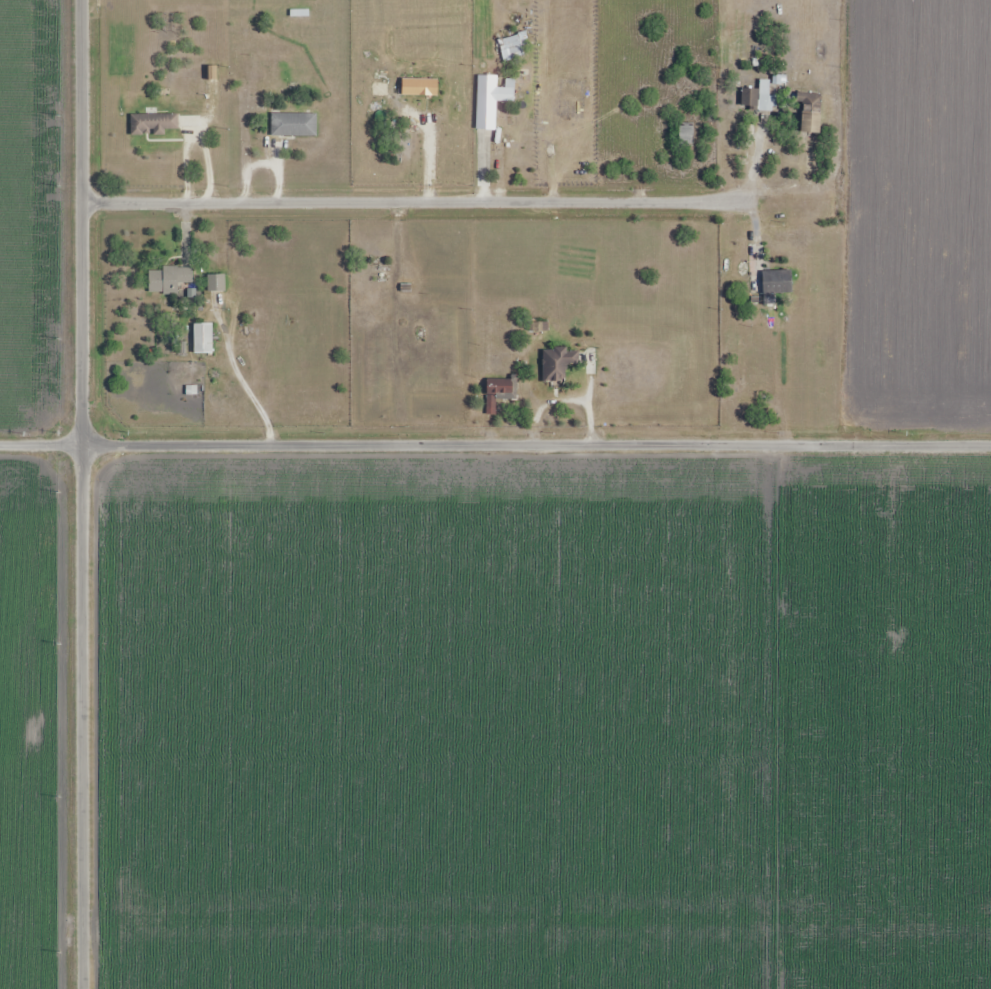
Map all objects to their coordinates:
building: (512, 47)
building: (758, 97)
building: (490, 101)
building: (810, 114)
building: (153, 125)
building: (294, 126)
building: (686, 134)
building: (550, 137)
road: (483, 171)
road: (421, 203)
building: (381, 272)
building: (169, 279)
building: (777, 283)
building: (203, 339)
building: (558, 365)
building: (500, 393)
road: (495, 444)
road: (84, 494)

